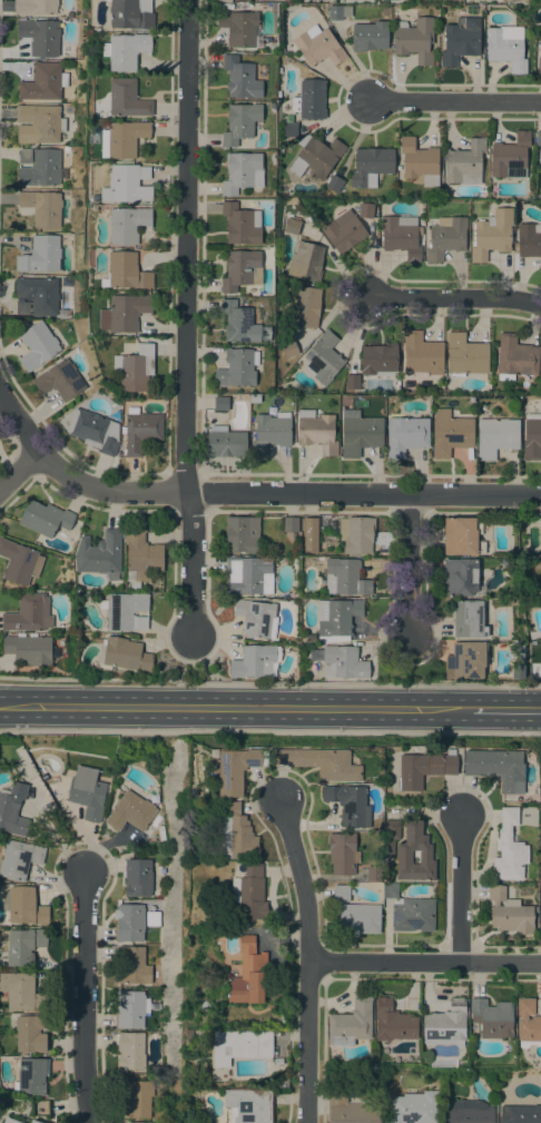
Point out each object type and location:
building: (224, 0)
building: (515, 0)
building: (35, 7)
building: (338, 11)
building: (69, 14)
building: (131, 14)
building: (238, 27)
building: (40, 36)
building: (370, 36)
building: (414, 40)
building: (460, 40)
building: (318, 46)
building: (506, 47)
building: (125, 50)
building: (539, 67)
building: (240, 78)
building: (43, 82)
building: (125, 99)
building: (309, 99)
road: (455, 101)
building: (272, 105)
building: (240, 122)
building: (39, 124)
building: (288, 127)
building: (124, 138)
building: (538, 138)
building: (23, 156)
building: (316, 156)
building: (510, 157)
building: (419, 161)
building: (465, 162)
building: (371, 166)
building: (41, 168)
building: (243, 171)
building: (130, 184)
building: (334, 184)
building: (42, 207)
building: (365, 209)
building: (128, 224)
building: (240, 224)
building: (292, 226)
building: (344, 230)
building: (492, 234)
building: (401, 236)
building: (445, 237)
building: (528, 240)
building: (40, 255)
building: (306, 260)
building: (240, 269)
building: (126, 272)
building: (37, 296)
road: (453, 296)
building: (307, 306)
building: (124, 312)
building: (62, 313)
road: (184, 316)
building: (238, 322)
building: (37, 346)
building: (288, 348)
building: (421, 355)
building: (465, 355)
building: (323, 357)
building: (515, 357)
building: (378, 359)
building: (135, 367)
building: (237, 367)
building: (60, 380)
building: (352, 381)
building: (220, 403)
road: (19, 422)
building: (92, 430)
building: (140, 430)
building: (270, 432)
building: (318, 432)
building: (360, 433)
building: (451, 433)
building: (405, 435)
building: (496, 436)
building: (532, 436)
building: (225, 442)
road: (255, 491)
building: (45, 518)
building: (291, 524)
building: (309, 524)
building: (356, 533)
building: (242, 534)
building: (461, 536)
building: (308, 548)
building: (99, 554)
building: (141, 558)
building: (19, 562)
road: (407, 564)
building: (248, 575)
building: (460, 577)
building: (345, 578)
building: (540, 590)
building: (125, 611)
building: (28, 613)
building: (256, 618)
building: (336, 619)
building: (469, 619)
building: (534, 634)
building: (309, 638)
building: (30, 649)
building: (122, 653)
road: (190, 657)
road: (405, 660)
building: (465, 660)
building: (255, 661)
building: (342, 661)
road: (138, 679)
road: (409, 683)
road: (184, 708)
road: (419, 709)
road: (504, 710)
road: (270, 732)
building: (322, 762)
building: (424, 768)
building: (496, 768)
building: (235, 769)
building: (87, 795)
building: (348, 804)
building: (12, 808)
building: (130, 811)
building: (237, 834)
building: (390, 836)
building: (509, 848)
building: (342, 853)
building: (404, 855)
building: (19, 858)
building: (374, 874)
building: (137, 877)
road: (462, 889)
building: (390, 890)
building: (249, 893)
building: (23, 906)
building: (354, 913)
building: (509, 913)
building: (413, 914)
building: (129, 922)
building: (23, 946)
road: (309, 962)
road: (425, 963)
building: (131, 965)
building: (248, 974)
building: (19, 989)
road: (87, 998)
building: (130, 1008)
building: (492, 1018)
building: (528, 1021)
building: (393, 1022)
building: (446, 1022)
building: (351, 1023)
building: (30, 1034)
building: (189, 1034)
building: (240, 1045)
building: (129, 1051)
building: (278, 1061)
building: (31, 1076)
building: (136, 1099)
building: (249, 1105)
building: (413, 1107)
building: (351, 1110)
building: (466, 1112)
building: (520, 1112)
building: (10, 1121)
building: (35, 1121)
building: (134, 1122)

